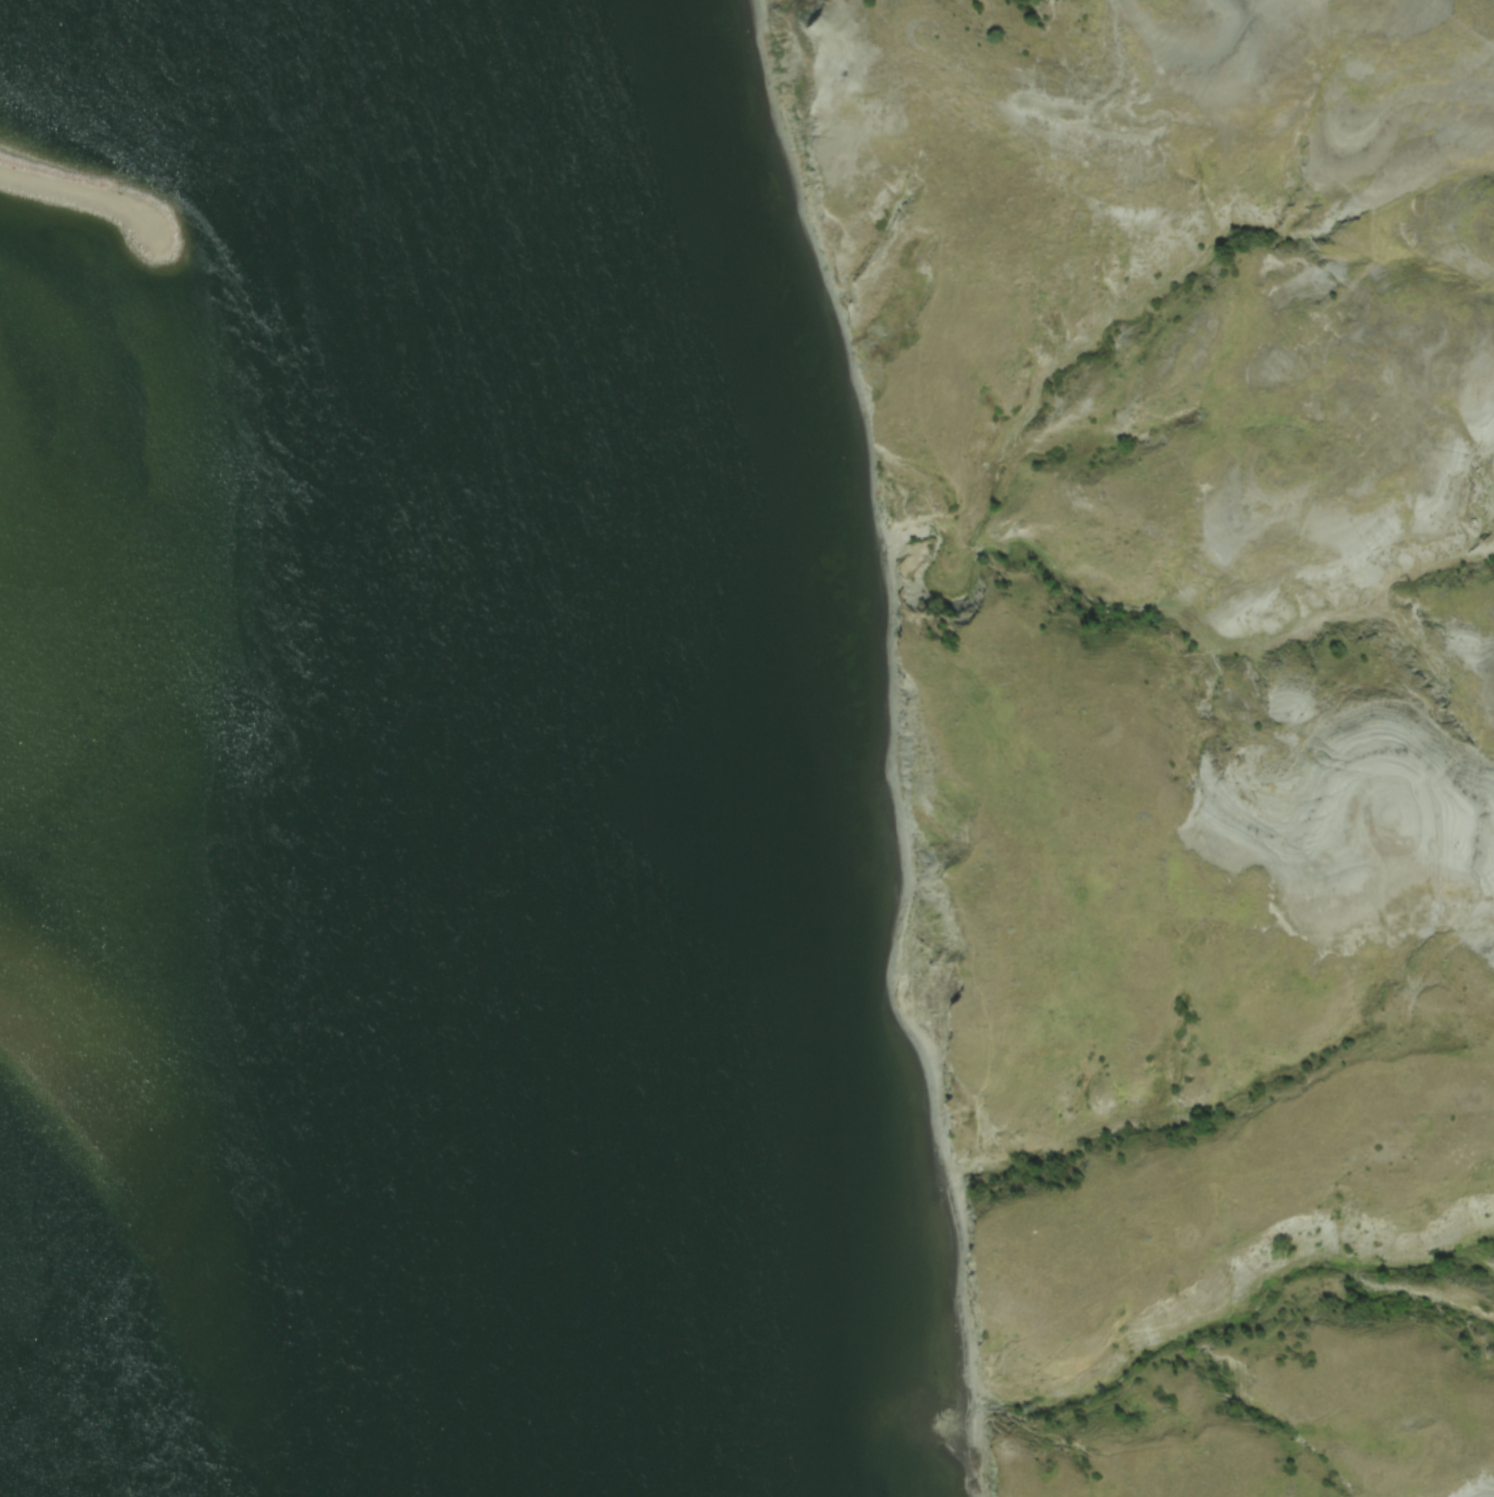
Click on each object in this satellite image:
road: (88, 195)
river: (521, 751)

